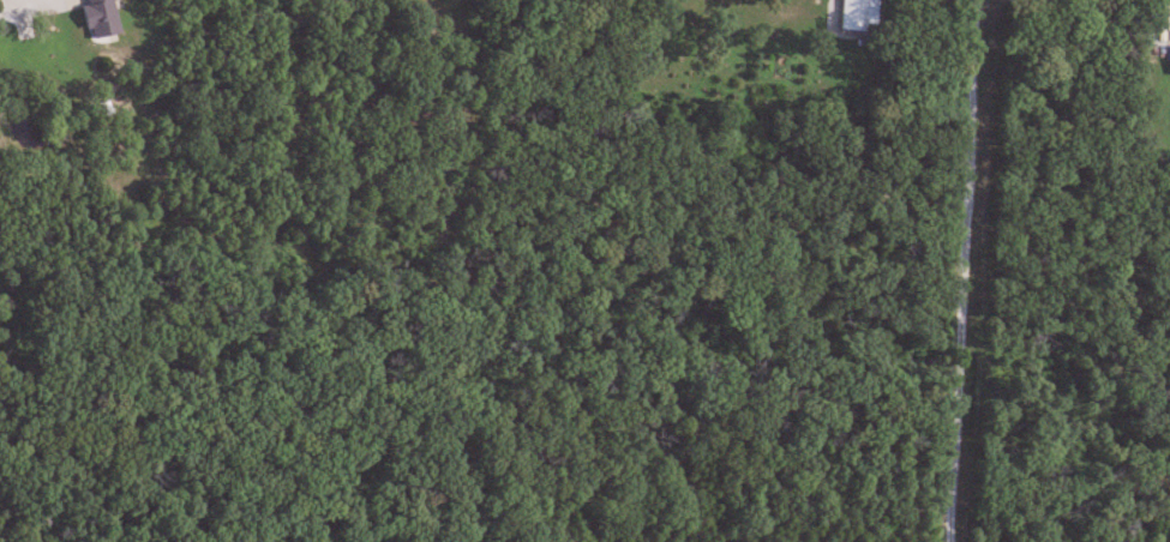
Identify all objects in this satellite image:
road: (35, 7)
building: (858, 16)
road: (960, 271)

